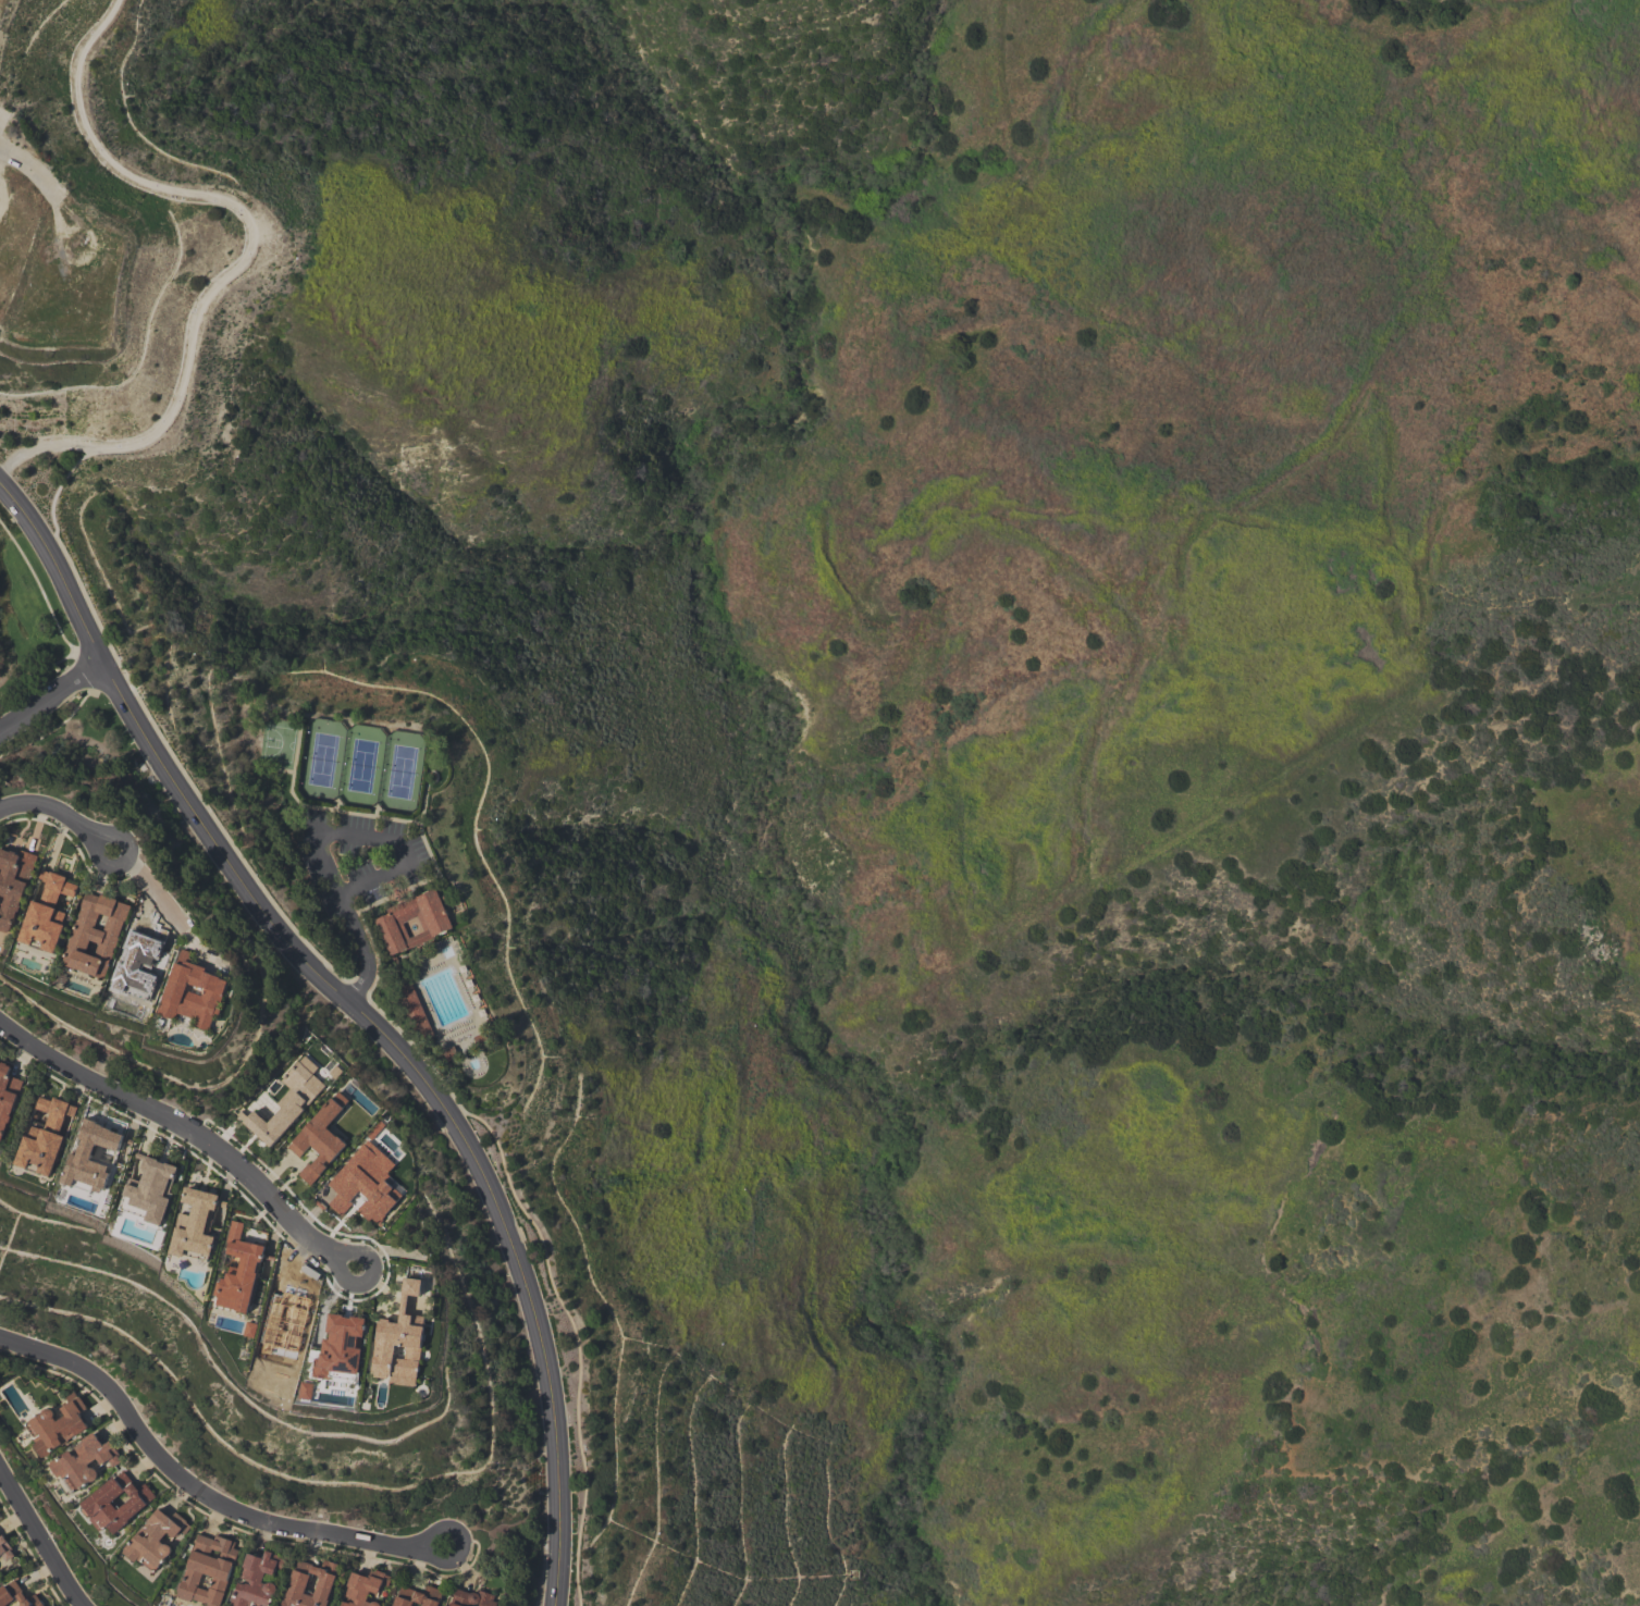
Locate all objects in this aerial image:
road: (34, 170)
road: (248, 255)
road: (52, 697)
road: (63, 813)
road: (320, 840)
building: (13, 882)
building: (47, 912)
building: (434, 921)
building: (95, 935)
building: (193, 992)
road: (363, 1013)
building: (7, 1096)
building: (287, 1101)
road: (187, 1131)
building: (45, 1137)
building: (320, 1138)
building: (90, 1157)
building: (365, 1183)
building: (149, 1189)
building: (195, 1224)
building: (239, 1271)
building: (399, 1341)
building: (341, 1348)
building: (306, 1391)
building: (58, 1424)
building: (84, 1460)
road: (190, 1481)
building: (97, 1503)
road: (42, 1535)
building: (155, 1539)
road: (458, 1544)
building: (5, 1548)
building: (209, 1569)
building: (257, 1580)
building: (297, 1584)
building: (365, 1588)
building: (17, 1595)
building: (418, 1596)
building: (472, 1597)

